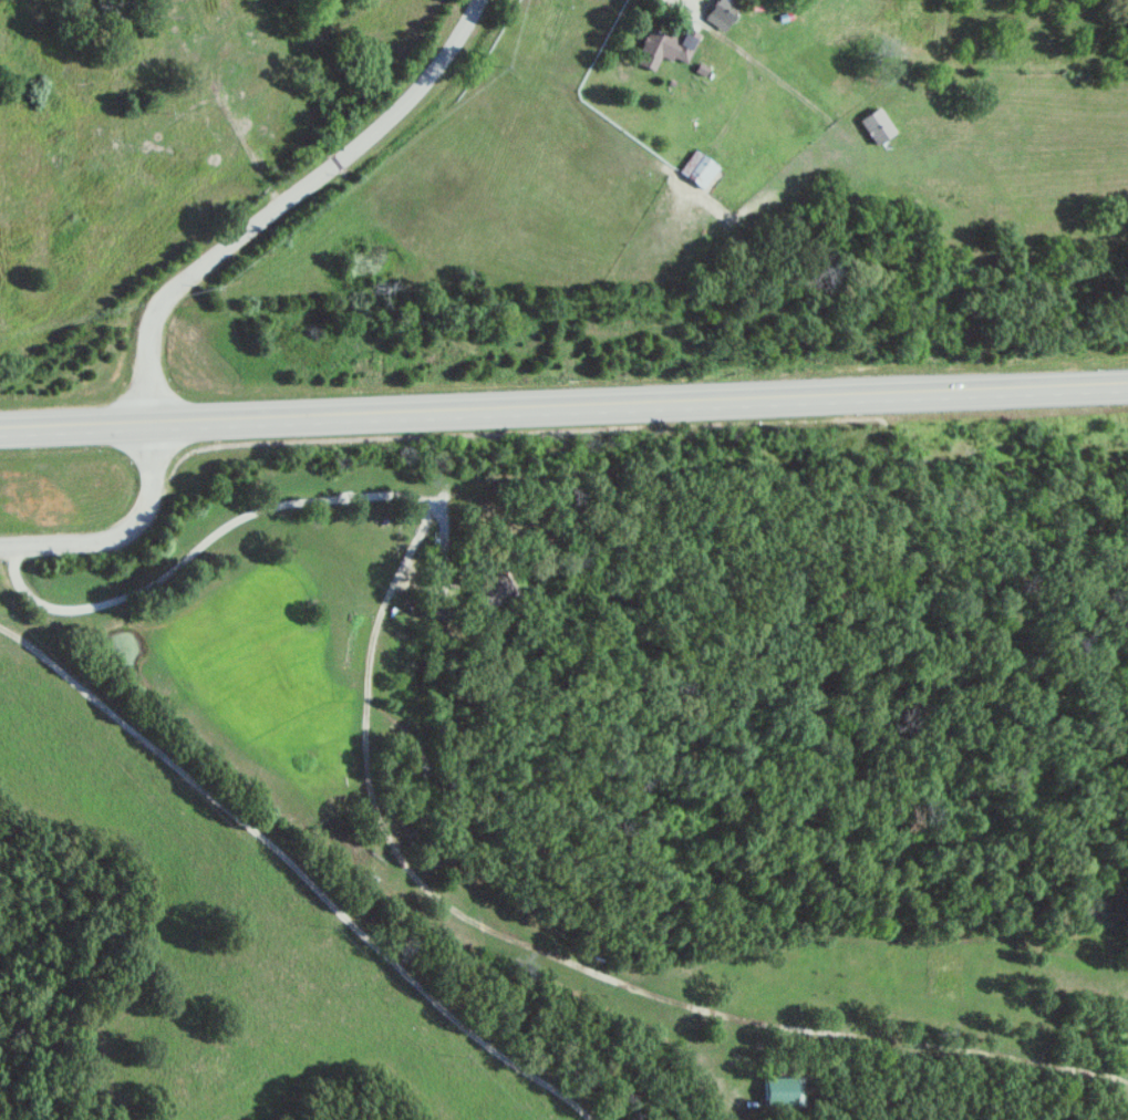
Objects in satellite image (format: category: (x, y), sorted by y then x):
building: (718, 12)
building: (662, 48)
building: (875, 126)
building: (695, 169)
road: (281, 198)
road: (563, 403)
road: (224, 522)
road: (121, 532)
building: (487, 595)
road: (299, 870)
building: (782, 1092)

